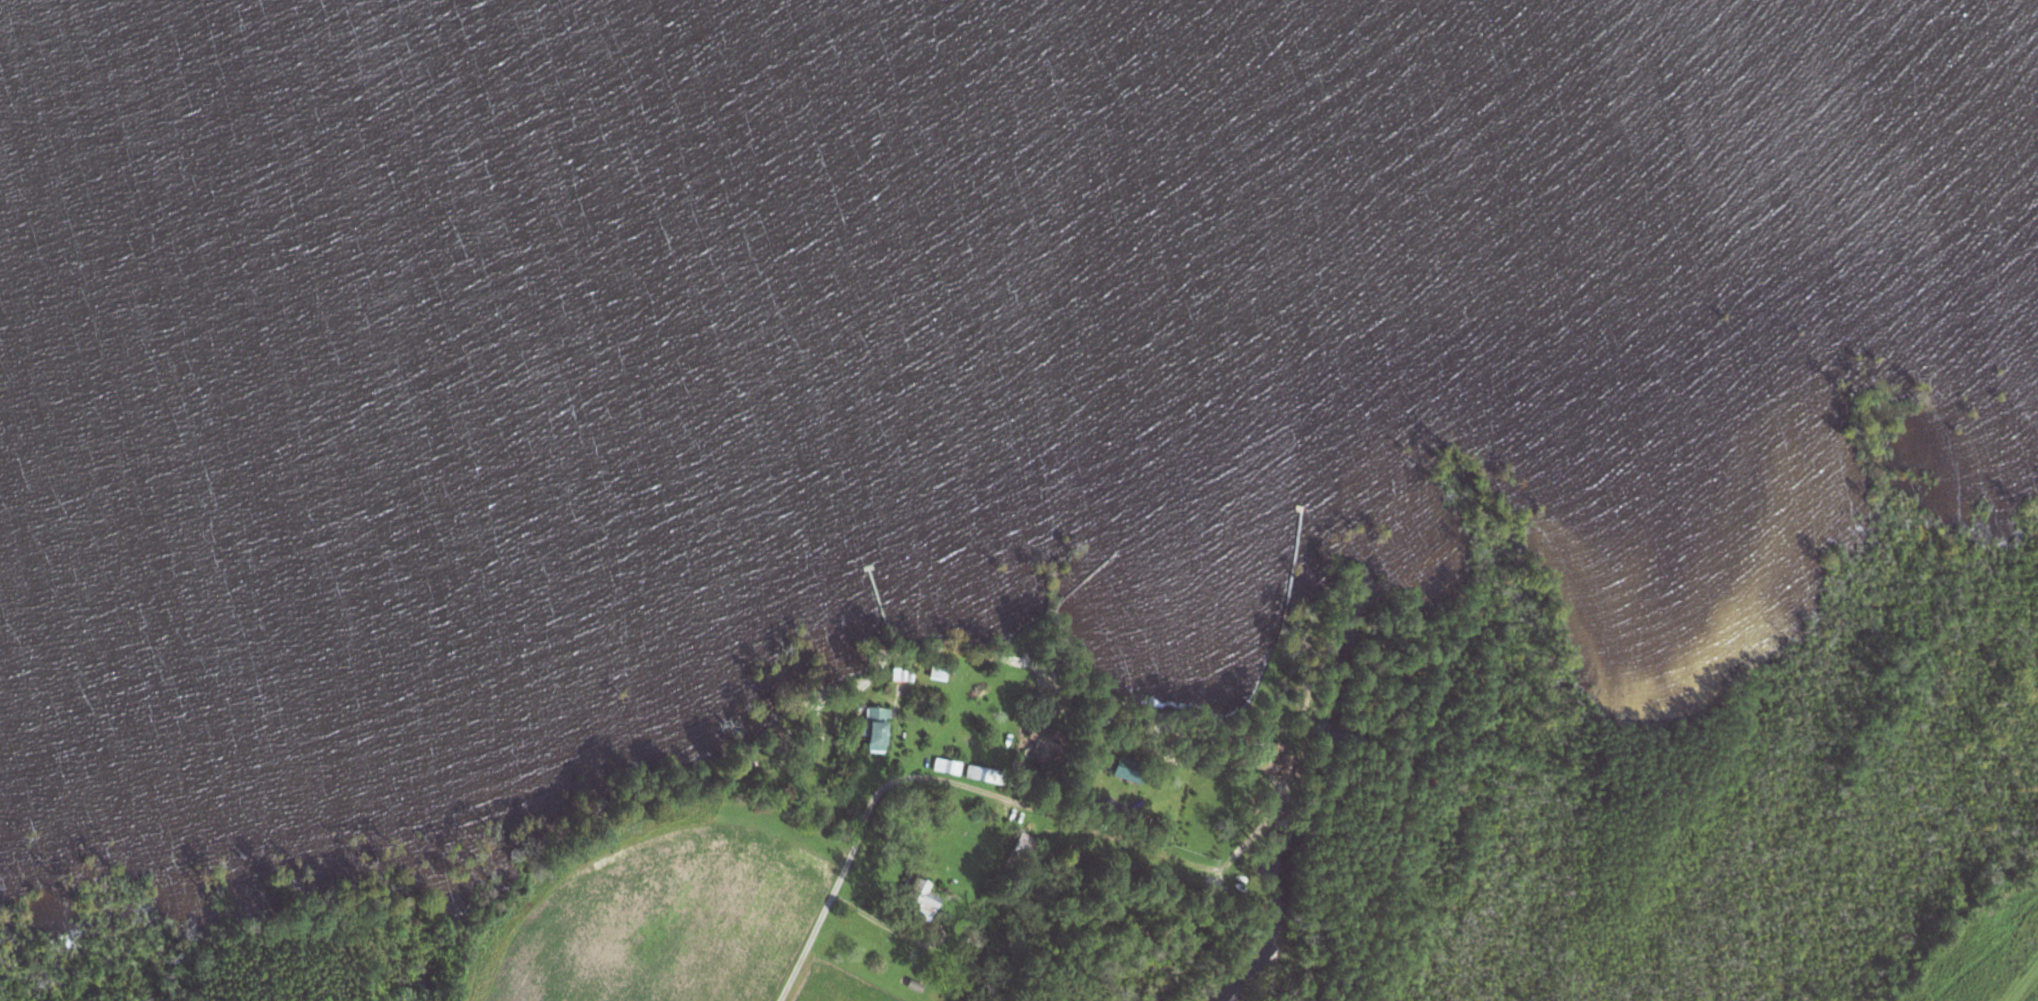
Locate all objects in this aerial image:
building: (935, 672)
building: (872, 731)
building: (1033, 744)
road: (913, 749)
building: (1264, 758)
building: (945, 768)
building: (974, 775)
road: (884, 787)
building: (1021, 849)
building: (919, 900)
road: (883, 923)

